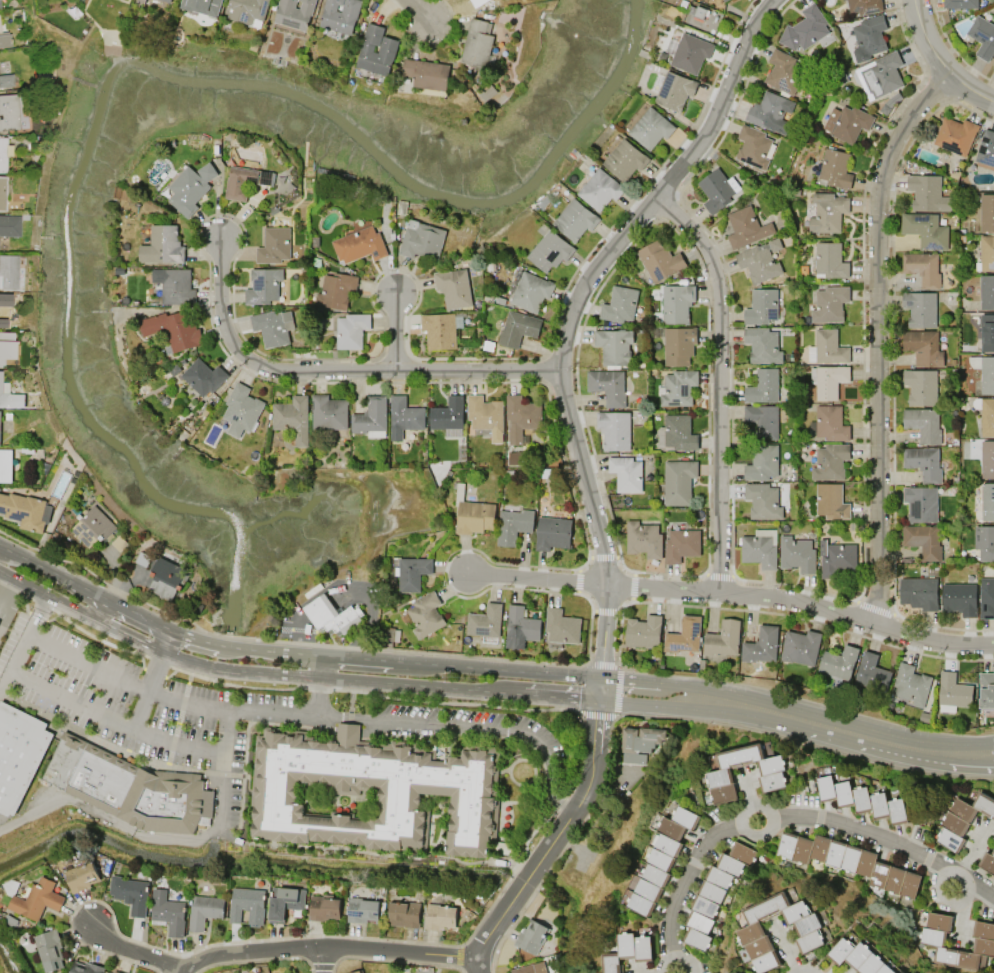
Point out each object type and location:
building: (725, 0)
building: (166, 1)
building: (496, 1)
building: (478, 2)
building: (960, 4)
building: (202, 6)
building: (864, 6)
road: (416, 9)
building: (246, 10)
building: (294, 13)
building: (340, 15)
building: (702, 18)
building: (805, 29)
building: (869, 36)
building: (983, 37)
building: (5, 40)
building: (477, 44)
building: (377, 50)
building: (688, 51)
building: (993, 64)
road: (935, 65)
building: (784, 72)
building: (426, 74)
building: (880, 75)
building: (6, 78)
building: (673, 89)
building: (9, 113)
building: (769, 113)
building: (847, 123)
building: (651, 128)
building: (956, 135)
building: (753, 147)
building: (986, 148)
building: (4, 154)
building: (625, 159)
building: (835, 169)
building: (244, 181)
building: (599, 187)
building: (190, 188)
building: (717, 190)
building: (3, 193)
building: (927, 193)
building: (827, 212)
building: (987, 212)
building: (576, 219)
building: (10, 226)
building: (746, 228)
building: (925, 230)
building: (421, 240)
building: (162, 245)
building: (274, 245)
building: (359, 245)
building: (550, 249)
building: (987, 253)
building: (830, 260)
building: (659, 261)
building: (760, 261)
building: (923, 268)
building: (8, 272)
building: (174, 285)
building: (263, 286)
building: (453, 287)
building: (336, 290)
building: (531, 291)
building: (986, 292)
building: (677, 303)
building: (830, 304)
building: (619, 305)
building: (762, 306)
building: (920, 308)
road: (570, 313)
building: (4, 323)
building: (272, 327)
building: (517, 328)
building: (174, 329)
building: (351, 330)
building: (440, 330)
road: (396, 333)
building: (987, 333)
building: (5, 335)
road: (876, 338)
building: (678, 345)
building: (763, 345)
building: (614, 346)
building: (827, 348)
building: (924, 348)
building: (6, 351)
road: (337, 371)
building: (984, 372)
building: (203, 376)
building: (828, 380)
road: (718, 383)
building: (608, 386)
building: (763, 386)
building: (921, 386)
building: (3, 387)
building: (676, 387)
building: (241, 410)
building: (328, 412)
building: (985, 415)
building: (404, 416)
building: (449, 416)
building: (486, 416)
building: (371, 417)
building: (521, 417)
building: (293, 418)
building: (763, 420)
building: (0, 422)
building: (831, 423)
building: (923, 423)
building: (614, 429)
building: (677, 433)
building: (515, 458)
building: (987, 459)
building: (830, 461)
building: (924, 462)
building: (762, 463)
building: (6, 465)
building: (626, 473)
building: (678, 481)
building: (763, 501)
building: (831, 501)
building: (987, 501)
building: (921, 503)
building: (25, 510)
building: (472, 513)
building: (513, 525)
building: (93, 526)
building: (553, 533)
building: (644, 539)
building: (923, 540)
building: (984, 542)
building: (119, 543)
building: (681, 545)
building: (760, 548)
building: (797, 554)
building: (143, 558)
building: (836, 558)
road: (50, 573)
building: (413, 573)
building: (167, 578)
road: (345, 580)
road: (21, 582)
road: (4, 586)
building: (919, 593)
road: (732, 595)
building: (987, 597)
building: (959, 599)
road: (67, 605)
road: (97, 607)
road: (6, 612)
road: (35, 612)
road: (134, 614)
building: (333, 615)
building: (426, 615)
building: (485, 623)
building: (561, 626)
building: (521, 627)
building: (644, 632)
road: (126, 633)
building: (684, 637)
building: (722, 639)
road: (164, 640)
building: (761, 645)
road: (230, 646)
building: (801, 647)
road: (309, 653)
road: (343, 657)
road: (14, 659)
building: (839, 662)
road: (321, 666)
road: (482, 669)
road: (239, 670)
building: (872, 673)
traffic signals: (599, 679)
road: (125, 680)
road: (653, 684)
building: (911, 684)
road: (459, 690)
road: (598, 690)
building: (986, 690)
road: (148, 691)
building: (954, 691)
road: (319, 695)
traffic signals: (597, 702)
road: (651, 707)
road: (274, 710)
road: (113, 721)
road: (470, 724)
road: (848, 732)
building: (641, 739)
building: (19, 753)
building: (633, 758)
building: (719, 774)
building: (126, 787)
building: (367, 791)
building: (862, 800)
road: (786, 817)
building: (963, 820)
road: (162, 835)
road: (549, 843)
building: (662, 859)
building: (850, 862)
building: (987, 862)
building: (81, 876)
building: (715, 893)
building: (130, 894)
building: (33, 898)
building: (285, 902)
building: (247, 904)
building: (324, 908)
building: (363, 909)
building: (204, 911)
building: (168, 913)
building: (404, 914)
building: (440, 915)
building: (10, 921)
building: (752, 933)
building: (532, 936)
building: (931, 940)
building: (50, 949)
road: (274, 950)
building: (629, 951)
building: (858, 958)
road: (324, 961)
building: (86, 968)
building: (532, 968)
building: (116, 972)
road: (178, 972)
building: (359, 972)

